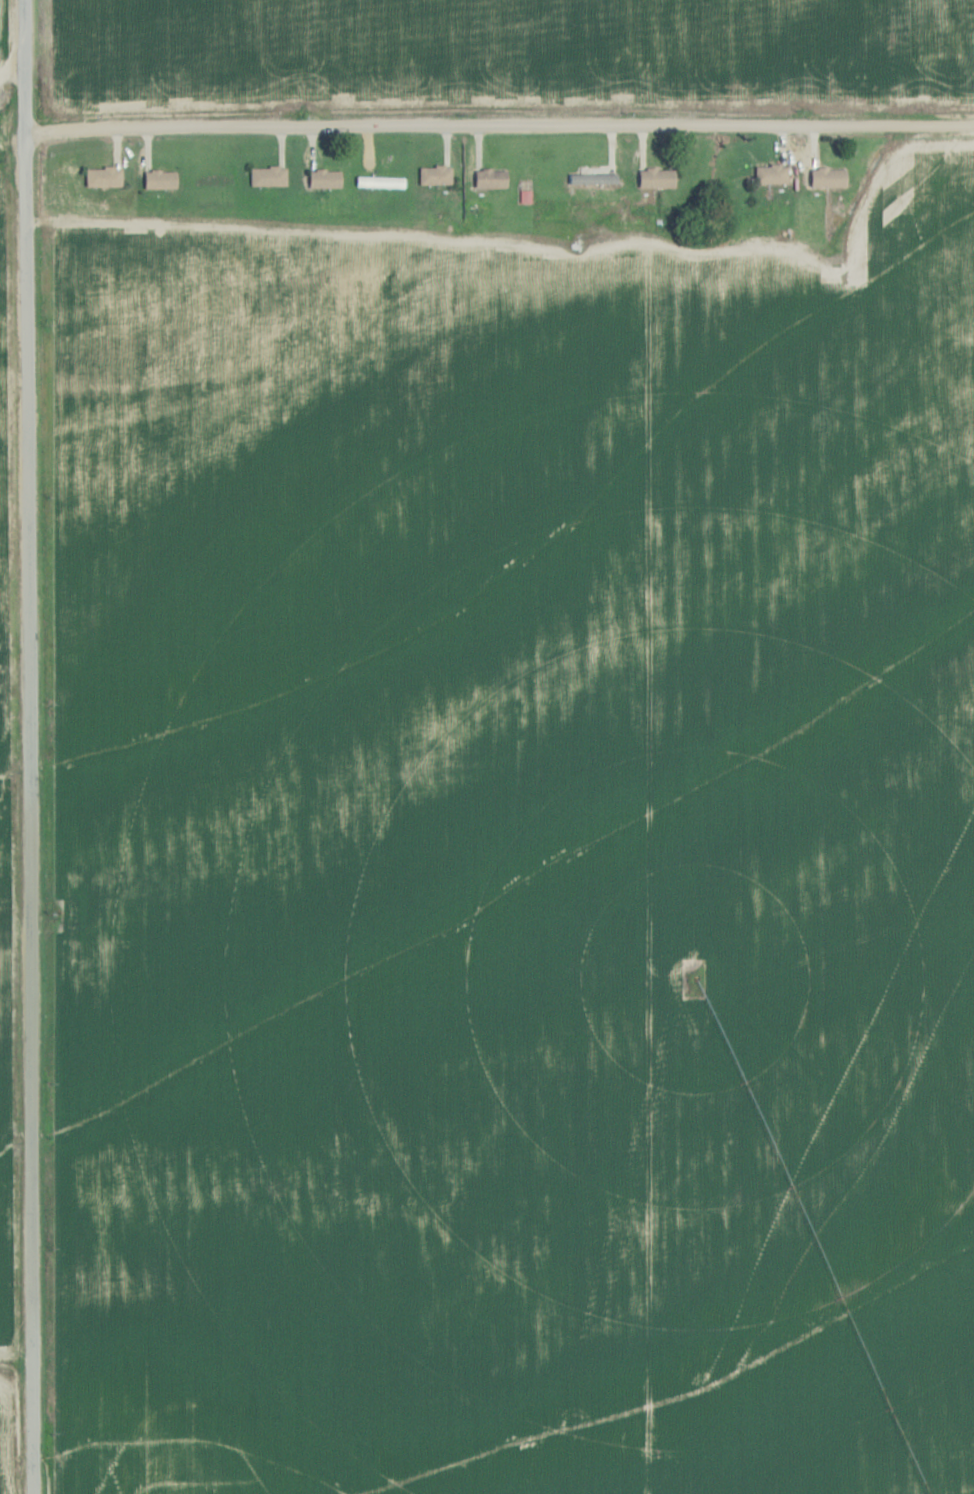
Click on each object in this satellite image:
road: (10, 72)
road: (497, 126)
building: (600, 175)
building: (772, 175)
building: (436, 176)
building: (104, 177)
building: (269, 177)
building: (829, 178)
building: (325, 179)
building: (491, 179)
building: (657, 179)
building: (161, 180)
road: (27, 746)

